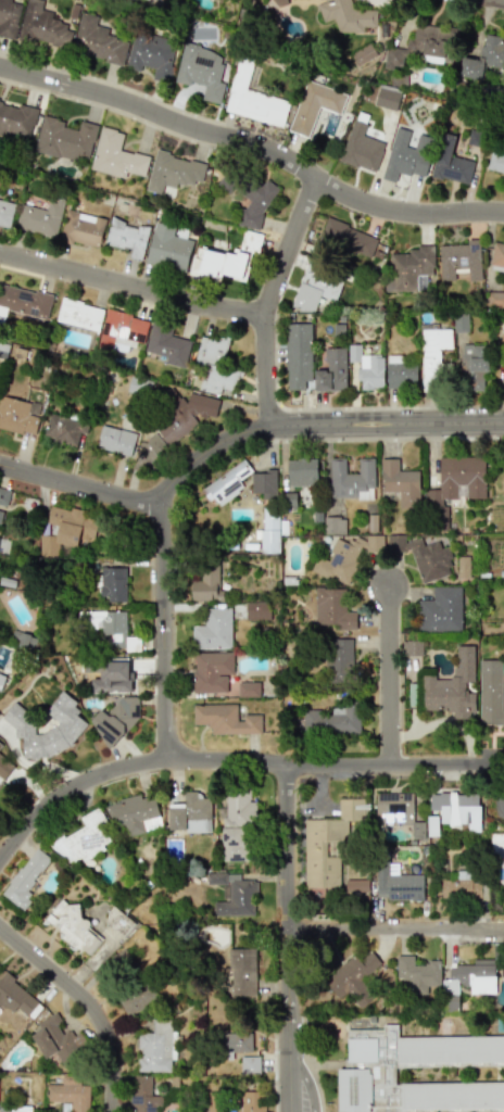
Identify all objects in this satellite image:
road: (502, 0)
building: (276, 2)
building: (346, 16)
building: (9, 17)
building: (43, 26)
building: (99, 39)
building: (151, 53)
building: (363, 54)
building: (483, 58)
building: (203, 71)
building: (253, 99)
building: (387, 99)
building: (314, 105)
building: (16, 118)
building: (65, 139)
road: (254, 142)
building: (361, 148)
building: (406, 154)
building: (116, 155)
building: (451, 162)
building: (495, 162)
building: (174, 172)
building: (250, 199)
building: (5, 212)
building: (40, 217)
building: (81, 228)
building: (127, 237)
building: (348, 239)
building: (167, 248)
building: (497, 256)
building: (230, 257)
building: (459, 260)
building: (408, 268)
road: (129, 287)
building: (315, 288)
road: (266, 295)
building: (495, 299)
building: (23, 302)
building: (79, 314)
building: (122, 330)
building: (166, 345)
building: (3, 350)
building: (297, 354)
building: (432, 355)
building: (213, 365)
building: (367, 367)
building: (474, 368)
building: (331, 371)
building: (400, 372)
building: (16, 416)
building: (182, 417)
road: (315, 424)
building: (62, 429)
road: (385, 439)
building: (115, 440)
building: (302, 471)
building: (351, 479)
building: (400, 482)
building: (226, 483)
building: (264, 483)
road: (79, 485)
building: (455, 485)
building: (3, 496)
building: (0, 514)
building: (333, 525)
building: (67, 530)
building: (268, 531)
building: (375, 542)
building: (431, 559)
building: (338, 561)
building: (463, 567)
building: (113, 584)
building: (206, 584)
building: (333, 609)
building: (440, 610)
building: (256, 611)
building: (213, 630)
road: (162, 634)
building: (26, 641)
building: (411, 647)
building: (338, 658)
building: (212, 671)
road: (390, 672)
building: (109, 674)
building: (1, 680)
building: (452, 686)
building: (248, 688)
building: (490, 693)
building: (115, 718)
building: (226, 719)
building: (331, 721)
building: (70, 726)
building: (0, 745)
road: (234, 761)
building: (3, 767)
building: (457, 809)
building: (398, 810)
building: (135, 814)
building: (189, 814)
building: (236, 824)
building: (432, 825)
building: (84, 838)
building: (328, 844)
building: (496, 846)
building: (26, 876)
building: (396, 884)
building: (356, 885)
building: (464, 888)
building: (234, 894)
building: (118, 922)
building: (73, 926)
road: (395, 927)
road: (288, 936)
building: (242, 972)
building: (351, 973)
building: (417, 973)
building: (469, 980)
building: (15, 996)
road: (89, 1000)
building: (137, 1001)
building: (58, 1040)
building: (234, 1044)
building: (155, 1048)
road: (305, 1062)
building: (249, 1064)
building: (421, 1074)
building: (70, 1094)
building: (140, 1095)
building: (251, 1101)
building: (213, 1103)
building: (14, 1109)

